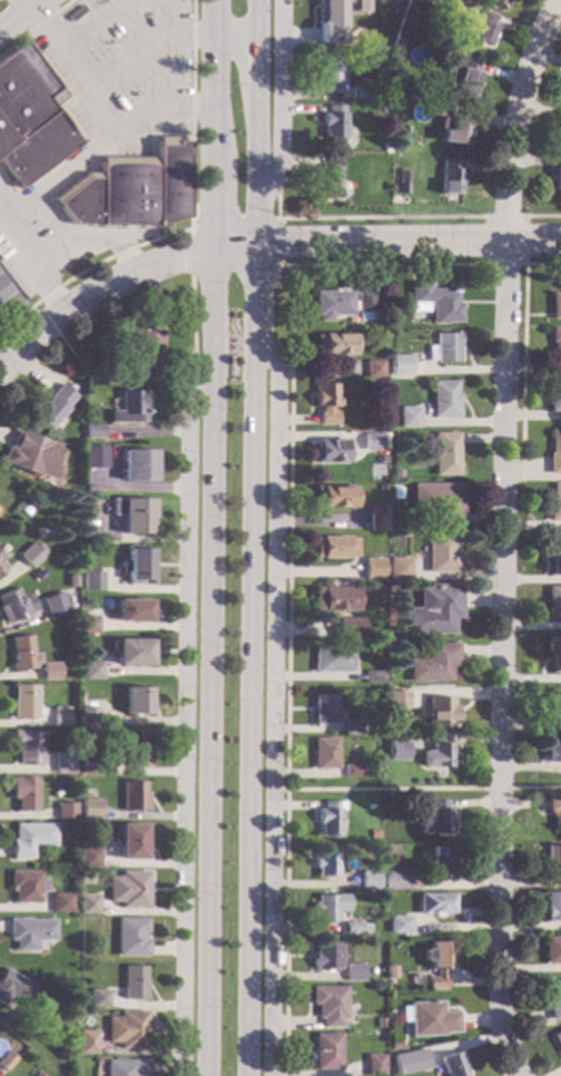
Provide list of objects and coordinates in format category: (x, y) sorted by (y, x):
road: (28, 1)
building: (427, 1)
building: (495, 2)
building: (329, 11)
road: (17, 12)
road: (89, 22)
road: (35, 27)
building: (480, 29)
road: (235, 38)
building: (395, 42)
road: (147, 48)
road: (161, 52)
building: (444, 53)
parking lot: (121, 67)
building: (329, 70)
building: (459, 79)
building: (357, 92)
road: (102, 100)
road: (277, 104)
building: (30, 116)
building: (329, 123)
building: (450, 129)
building: (560, 135)
building: (406, 143)
building: (384, 148)
road: (62, 170)
building: (557, 176)
building: (328, 177)
building: (447, 177)
building: (400, 188)
building: (129, 190)
road: (523, 215)
road: (542, 215)
road: (232, 216)
road: (361, 216)
road: (53, 217)
road: (189, 223)
road: (89, 238)
road: (276, 242)
road: (409, 244)
road: (189, 251)
road: (29, 263)
road: (276, 268)
road: (117, 278)
building: (2, 290)
building: (432, 302)
building: (329, 304)
building: (554, 305)
building: (362, 306)
road: (191, 330)
building: (333, 344)
building: (442, 348)
building: (142, 350)
building: (555, 350)
road: (523, 351)
building: (398, 364)
building: (372, 369)
building: (554, 398)
building: (442, 399)
building: (324, 402)
building: (50, 405)
building: (127, 408)
building: (407, 417)
building: (91, 431)
building: (370, 442)
building: (329, 450)
building: (89, 452)
building: (443, 453)
building: (554, 453)
building: (31, 456)
building: (380, 459)
building: (136, 464)
building: (394, 475)
road: (532, 476)
building: (332, 497)
building: (437, 501)
building: (554, 502)
building: (131, 515)
building: (374, 521)
road: (502, 536)
road: (205, 537)
road: (254, 538)
building: (333, 547)
building: (554, 552)
building: (30, 555)
building: (440, 555)
building: (0, 557)
building: (137, 564)
building: (1, 567)
building: (396, 568)
building: (371, 569)
road: (288, 573)
building: (90, 580)
building: (368, 586)
building: (333, 599)
building: (553, 601)
building: (13, 606)
building: (55, 606)
building: (433, 609)
building: (132, 612)
building: (87, 625)
building: (347, 627)
building: (22, 653)
building: (130, 653)
building: (553, 653)
building: (332, 659)
building: (432, 663)
building: (90, 669)
building: (49, 671)
building: (372, 677)
building: (396, 700)
building: (136, 701)
building: (23, 702)
road: (272, 708)
building: (553, 708)
building: (324, 710)
building: (440, 711)
building: (60, 716)
building: (88, 716)
road: (181, 722)
building: (352, 726)
building: (390, 727)
building: (27, 746)
building: (134, 749)
building: (552, 749)
building: (396, 751)
building: (324, 753)
building: (436, 755)
building: (88, 762)
building: (62, 763)
building: (353, 770)
road: (415, 790)
building: (23, 793)
building: (132, 795)
building: (90, 809)
building: (553, 809)
building: (65, 811)
building: (328, 818)
building: (436, 818)
building: (30, 839)
building: (132, 841)
building: (88, 857)
building: (553, 858)
building: (325, 863)
building: (439, 863)
building: (395, 878)
building: (368, 879)
building: (26, 886)
building: (128, 889)
building: (60, 902)
building: (435, 903)
building: (87, 904)
building: (328, 906)
building: (552, 906)
building: (400, 923)
building: (355, 928)
building: (29, 931)
building: (129, 937)
building: (551, 949)
building: (326, 956)
building: (436, 960)
building: (388, 970)
building: (353, 972)
building: (132, 982)
building: (13, 987)
building: (98, 998)
building: (553, 999)
building: (327, 1004)
building: (426, 1019)
building: (378, 1023)
building: (127, 1029)
building: (557, 1039)
building: (85, 1041)
building: (393, 1046)
building: (325, 1051)
building: (6, 1060)
building: (407, 1060)
building: (447, 1060)
building: (374, 1065)
building: (125, 1067)
building: (37, 1074)

